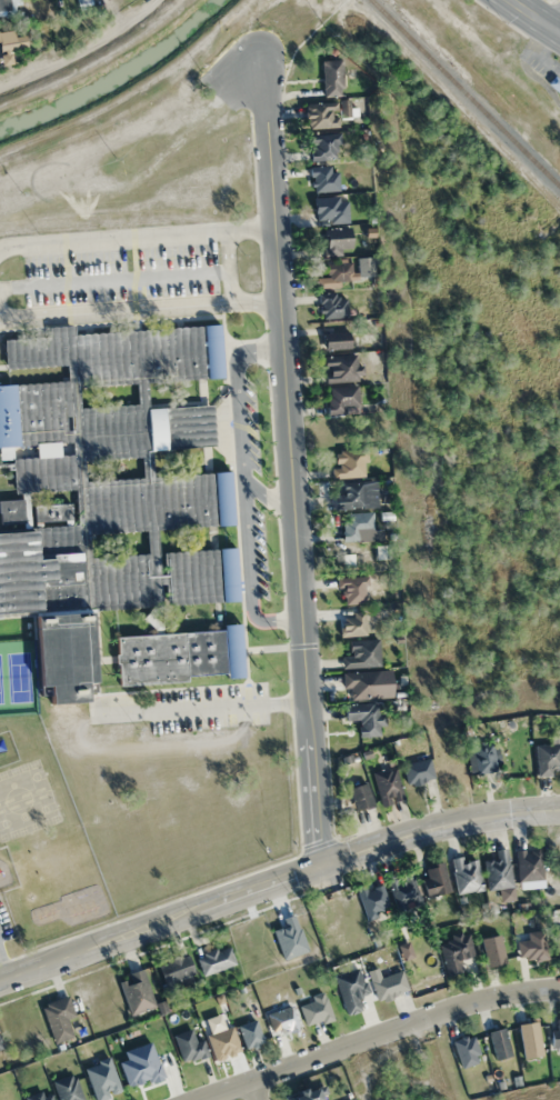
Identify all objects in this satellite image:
building: (4, 7)
road: (534, 17)
road: (557, 27)
building: (11, 38)
building: (331, 77)
railway: (466, 92)
building: (320, 114)
road: (127, 132)
building: (322, 144)
building: (322, 178)
building: (330, 208)
road: (136, 236)
building: (336, 240)
road: (228, 264)
building: (338, 271)
road: (114, 278)
building: (331, 304)
road: (138, 307)
building: (336, 339)
building: (339, 367)
building: (339, 398)
road: (289, 458)
building: (348, 462)
building: (109, 487)
road: (243, 487)
building: (347, 496)
road: (268, 497)
building: (13, 510)
building: (356, 523)
building: (352, 588)
building: (178, 653)
building: (361, 653)
building: (362, 684)
road: (199, 707)
building: (364, 717)
building: (480, 756)
building: (547, 758)
building: (417, 771)
building: (387, 784)
building: (359, 796)
building: (528, 864)
building: (497, 870)
building: (466, 873)
building: (434, 878)
road: (277, 883)
building: (402, 889)
building: (372, 898)
building: (289, 937)
building: (557, 942)
building: (531, 944)
building: (492, 950)
building: (453, 951)
building: (214, 959)
building: (174, 968)
road: (3, 970)
building: (386, 983)
building: (349, 988)
building: (134, 991)
building: (313, 1009)
building: (58, 1017)
building: (281, 1020)
building: (249, 1033)
building: (556, 1034)
road: (379, 1036)
building: (529, 1039)
building: (499, 1042)
building: (188, 1046)
building: (466, 1050)
building: (67, 1088)
road: (254, 1091)
building: (303, 1094)
building: (39, 1096)

